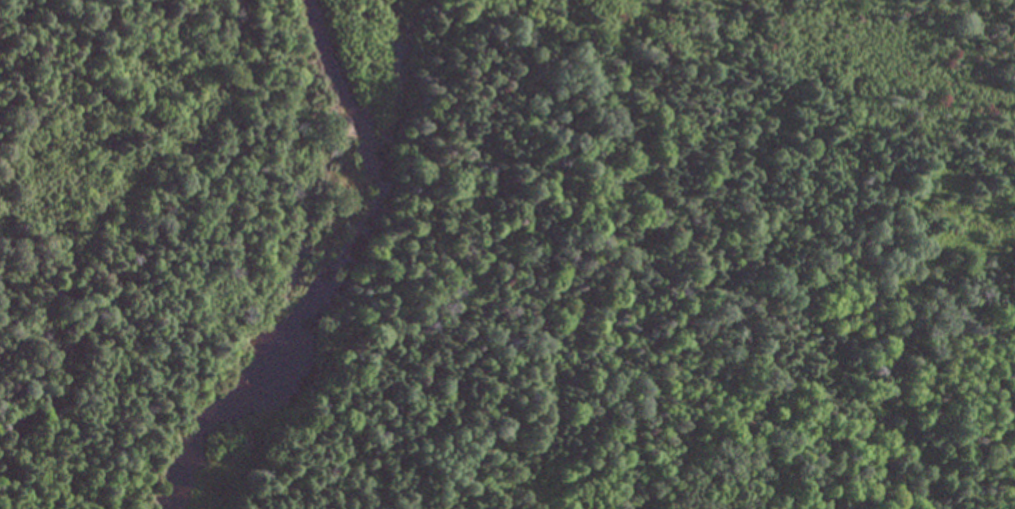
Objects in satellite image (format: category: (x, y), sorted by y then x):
river: (346, 271)

